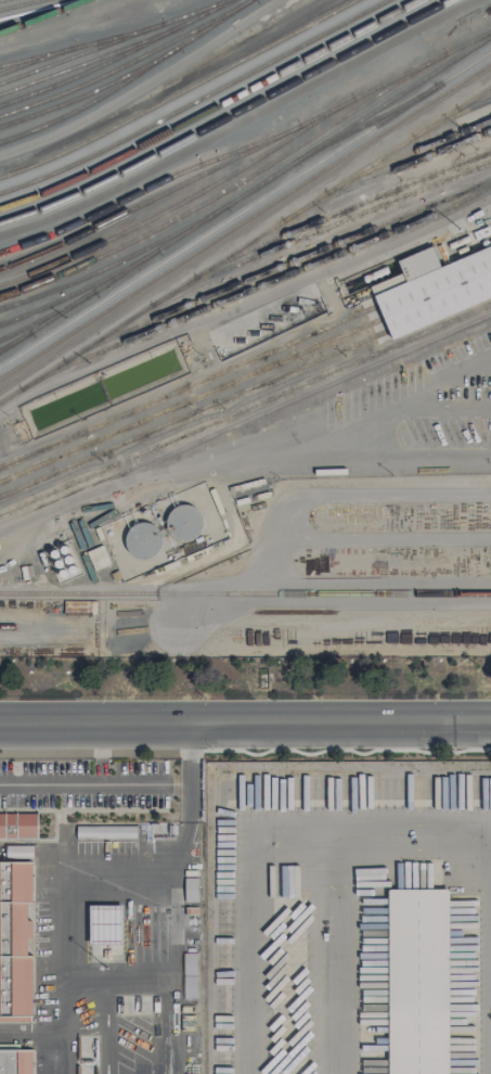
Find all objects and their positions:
railway: (18, 4)
railway: (38, 9)
railway: (42, 16)
railway: (33, 17)
railway: (112, 41)
railway: (80, 44)
railway: (38, 55)
railway: (116, 56)
railway: (86, 62)
railway: (124, 64)
railway: (128, 79)
railway: (90, 91)
railway: (179, 92)
railway: (473, 99)
railway: (195, 101)
railway: (209, 107)
railway: (227, 116)
railway: (451, 116)
railway: (359, 126)
railway: (406, 153)
railway: (385, 172)
railway: (251, 176)
railway: (225, 177)
railway: (177, 187)
railway: (148, 188)
railway: (245, 193)
railway: (245, 208)
railway: (341, 212)
railway: (245, 220)
railway: (320, 230)
railway: (245, 244)
railway: (120, 259)
railway: (276, 268)
railway: (256, 286)
railway: (79, 291)
building: (437, 293)
railway: (44, 319)
railway: (15, 340)
railway: (245, 361)
railway: (245, 374)
railway: (245, 391)
railway: (245, 409)
road: (245, 421)
road: (373, 433)
building: (183, 523)
building: (143, 539)
building: (63, 561)
railway: (245, 592)
road: (245, 723)
road: (100, 753)
road: (190, 753)
road: (82, 783)
road: (268, 844)
road: (80, 871)
building: (190, 888)
building: (105, 924)
road: (169, 932)
building: (14, 938)
road: (336, 955)
building: (189, 974)
building: (416, 980)
road: (31, 1033)
road: (165, 1036)
road: (63, 1052)
building: (15, 1061)
road: (163, 1070)

